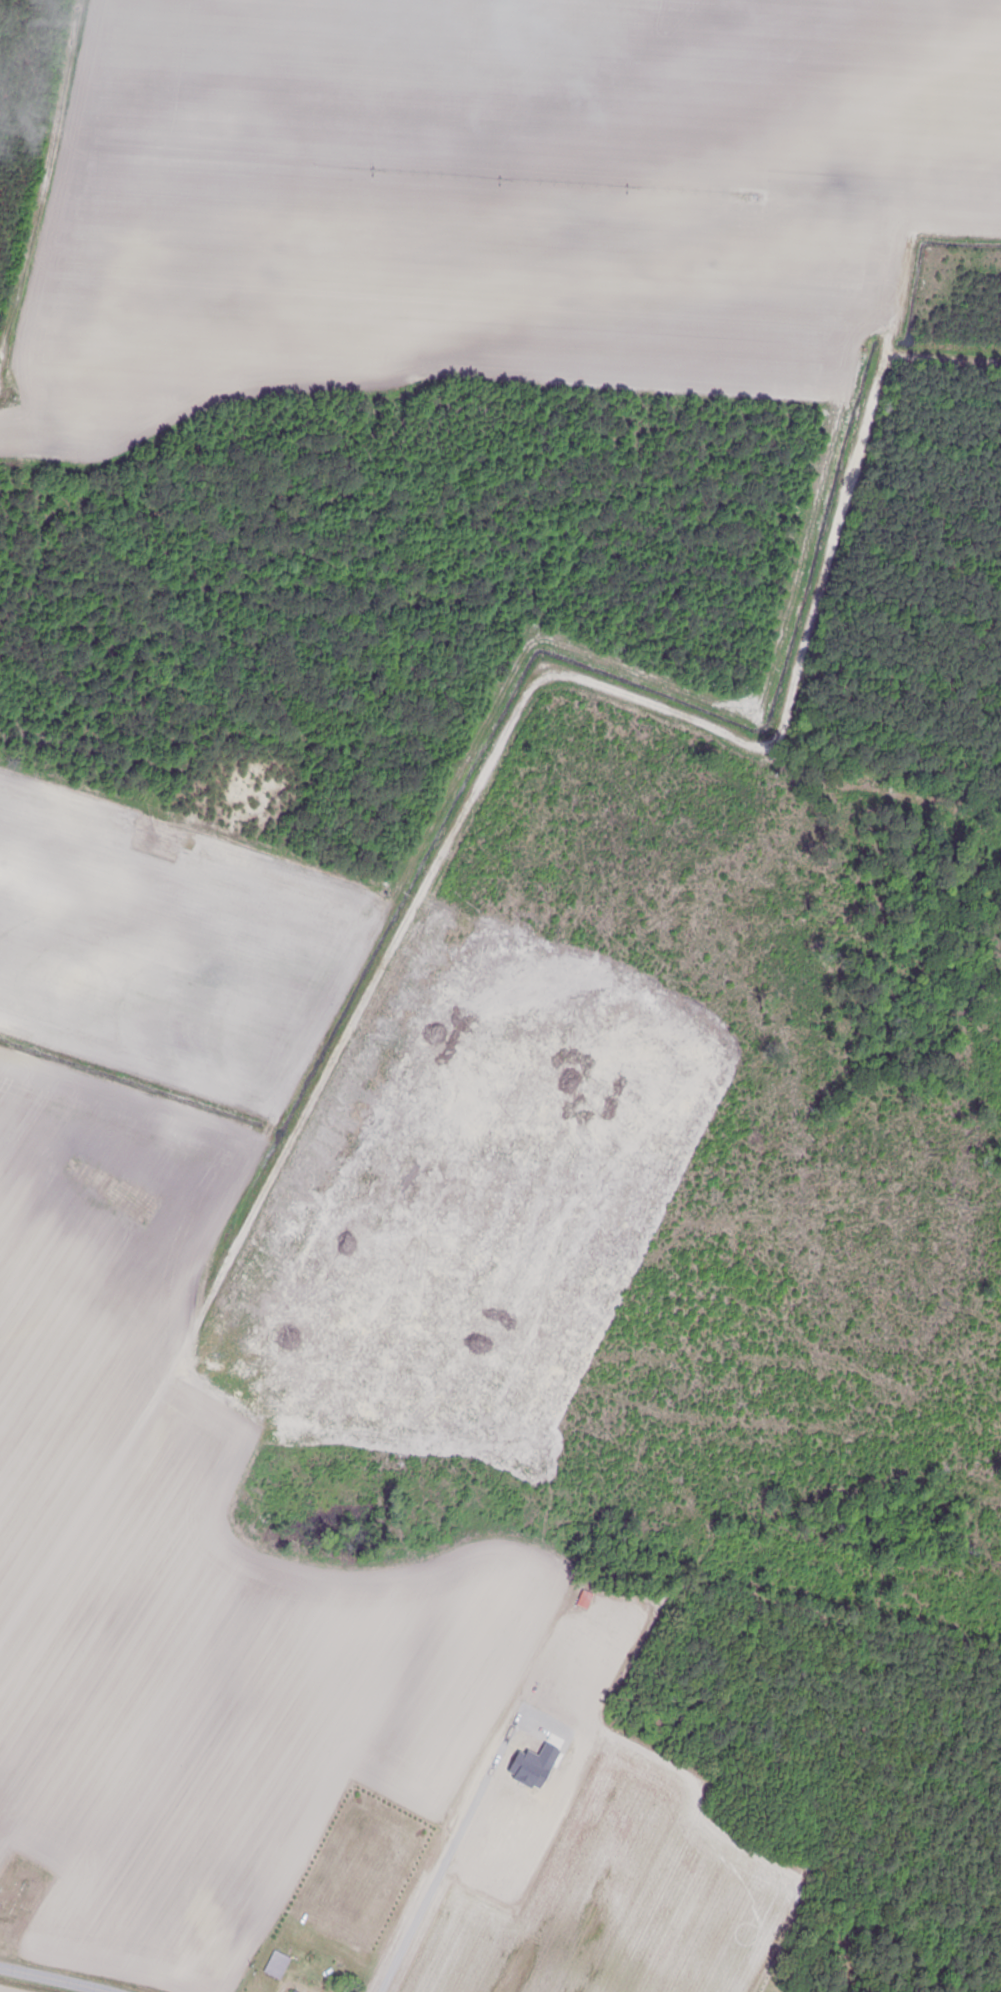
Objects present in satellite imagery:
building: (275, 1965)
road: (44, 1982)
building: (293, 1991)

